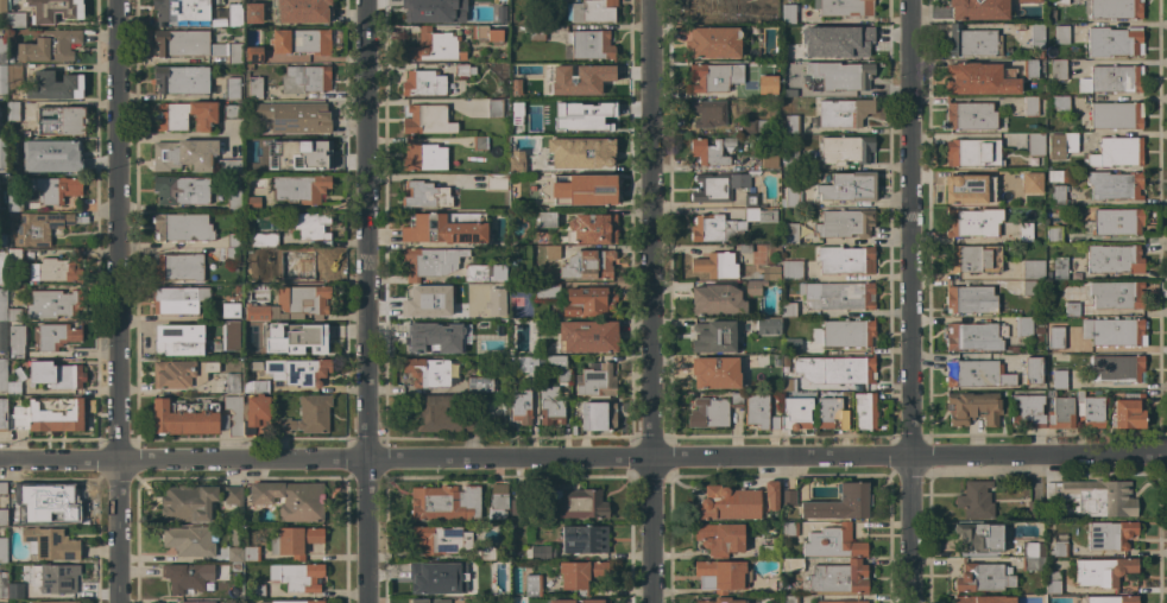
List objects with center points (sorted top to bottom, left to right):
building: (459, 1)
building: (1028, 1)
building: (1060, 1)
building: (843, 7)
building: (769, 8)
building: (1114, 8)
building: (2, 9)
building: (52, 9)
building: (179, 9)
building: (711, 9)
building: (977, 9)
building: (301, 11)
building: (415, 11)
building: (591, 11)
building: (252, 13)
building: (788, 14)
building: (233, 15)
building: (1051, 15)
building: (15, 20)
building: (534, 32)
building: (486, 34)
building: (1061, 34)
building: (1036, 36)
building: (305, 40)
building: (843, 40)
building: (971, 42)
building: (1114, 42)
building: (713, 43)
building: (185, 44)
building: (50, 45)
building: (434, 45)
building: (589, 45)
building: (2, 50)
building: (789, 50)
building: (234, 52)
building: (253, 55)
building: (10, 61)
building: (564, 69)
building: (1029, 69)
building: (1058, 69)
building: (463, 70)
building: (840, 75)
building: (13, 76)
building: (714, 77)
building: (304, 78)
building: (980, 78)
building: (2, 80)
building: (181, 80)
building: (1111, 80)
building: (592, 81)
building: (423, 83)
building: (55, 85)
building: (788, 85)
building: (767, 87)
building: (232, 88)
building: (254, 88)
building: (14, 97)
building: (1056, 103)
building: (517, 104)
building: (1030, 106)
building: (494, 108)
building: (232, 110)
building: (13, 112)
building: (707, 113)
building: (841, 113)
building: (185, 115)
building: (1116, 115)
building: (294, 116)
building: (970, 116)
building: (593, 118)
building: (427, 120)
building: (61, 121)
building: (522, 125)
building: (790, 125)
building: (753, 126)
building: (25, 134)
road: (175, 137)
building: (479, 142)
building: (1036, 144)
building: (1061, 145)
building: (246, 150)
building: (845, 150)
building: (709, 151)
building: (303, 152)
building: (581, 152)
building: (1116, 152)
building: (2, 153)
building: (972, 153)
building: (61, 154)
building: (184, 154)
building: (422, 155)
building: (789, 159)
building: (516, 161)
building: (762, 164)
building: (229, 166)
building: (258, 166)
building: (1056, 176)
building: (496, 182)
building: (1030, 183)
building: (2, 184)
building: (1115, 185)
building: (718, 186)
building: (846, 186)
building: (53, 189)
building: (299, 189)
building: (969, 189)
building: (179, 190)
building: (583, 190)
building: (424, 196)
building: (791, 197)
building: (233, 198)
building: (1058, 198)
building: (750, 199)
building: (13, 202)
building: (252, 203)
building: (543, 220)
building: (1114, 221)
building: (846, 222)
building: (972, 222)
building: (310, 226)
building: (726, 226)
building: (39, 227)
building: (182, 227)
building: (444, 228)
building: (592, 228)
building: (1150, 229)
building: (1024, 231)
building: (790, 233)
building: (1053, 234)
building: (263, 239)
building: (233, 240)
building: (2, 241)
building: (744, 248)
building: (264, 249)
building: (551, 252)
building: (232, 254)
building: (14, 255)
building: (303, 259)
building: (973, 259)
building: (1114, 259)
building: (845, 260)
building: (429, 261)
building: (587, 264)
building: (715, 265)
building: (2, 267)
building: (177, 267)
building: (1059, 267)
building: (57, 269)
building: (1033, 269)
building: (791, 271)
building: (484, 273)
building: (769, 273)
building: (272, 275)
building: (753, 287)
building: (1030, 287)
building: (1049, 287)
building: (474, 290)
building: (545, 291)
building: (1116, 294)
building: (837, 296)
building: (179, 299)
building: (303, 299)
building: (970, 299)
road: (115, 300)
road: (649, 300)
building: (715, 300)
road: (365, 301)
building: (496, 301)
building: (589, 301)
road: (908, 301)
building: (430, 303)
building: (53, 304)
building: (2, 305)
building: (231, 307)
building: (1072, 309)
building: (788, 310)
building: (257, 311)
building: (13, 315)
building: (480, 325)
building: (767, 325)
building: (1023, 326)
building: (1039, 329)
building: (1114, 331)
building: (844, 334)
building: (231, 335)
building: (55, 336)
building: (315, 336)
building: (586, 336)
building: (713, 336)
building: (974, 336)
building: (2, 337)
building: (1055, 337)
building: (178, 339)
building: (15, 341)
building: (423, 341)
building: (791, 345)
building: (1010, 348)
building: (267, 350)
building: (784, 361)
building: (555, 362)
building: (526, 364)
building: (838, 369)
building: (1117, 369)
building: (294, 370)
building: (1033, 370)
building: (431, 372)
building: (179, 373)
building: (715, 373)
building: (56, 374)
building: (976, 374)
building: (2, 375)
building: (562, 375)
building: (1059, 380)
building: (597, 381)
building: (15, 383)
building: (229, 383)
building: (479, 383)
building: (788, 385)
building: (254, 386)
building: (500, 391)
building: (472, 401)
building: (550, 405)
building: (521, 407)
building: (972, 407)
building: (1090, 410)
building: (712, 411)
building: (864, 411)
building: (1028, 411)
building: (761, 412)
building: (831, 412)
building: (1060, 412)
building: (1128, 412)
building: (796, 413)
building: (48, 414)
building: (234, 414)
building: (254, 414)
building: (439, 414)
building: (2, 415)
building: (307, 415)
building: (598, 415)
building: (183, 417)
road: (582, 456)
building: (2, 488)
building: (770, 494)
building: (14, 495)
building: (233, 496)
building: (1096, 496)
building: (788, 497)
building: (290, 500)
building: (976, 500)
building: (52, 501)
building: (497, 501)
building: (187, 502)
building: (444, 502)
building: (580, 503)
building: (727, 503)
building: (839, 503)
building: (1034, 508)
building: (4, 518)
building: (789, 528)
building: (1110, 535)
building: (980, 537)
building: (440, 539)
building: (583, 539)
building: (720, 539)
building: (294, 540)
building: (189, 541)
building: (833, 542)
building: (51, 544)
building: (1059, 545)
building: (234, 548)
building: (2, 550)
building: (769, 550)
building: (1033, 550)
building: (537, 552)
building: (251, 553)
building: (486, 553)
building: (1032, 564)
building: (791, 565)
building: (235, 566)
building: (1102, 571)
building: (580, 575)
building: (187, 576)
building: (721, 576)
building: (297, 577)
building: (436, 577)
building: (983, 577)
building: (55, 578)
building: (837, 578)
building: (1053, 582)
building: (2, 585)
building: (532, 585)
building: (14, 590)
building: (257, 591)
building: (789, 599)
building: (984, 599)
building: (1109, 599)
building: (295, 601)
building: (428, 601)
building: (578, 601)
building: (720, 601)
building: (56, 602)
building: (198, 602)
building: (840, 602)

